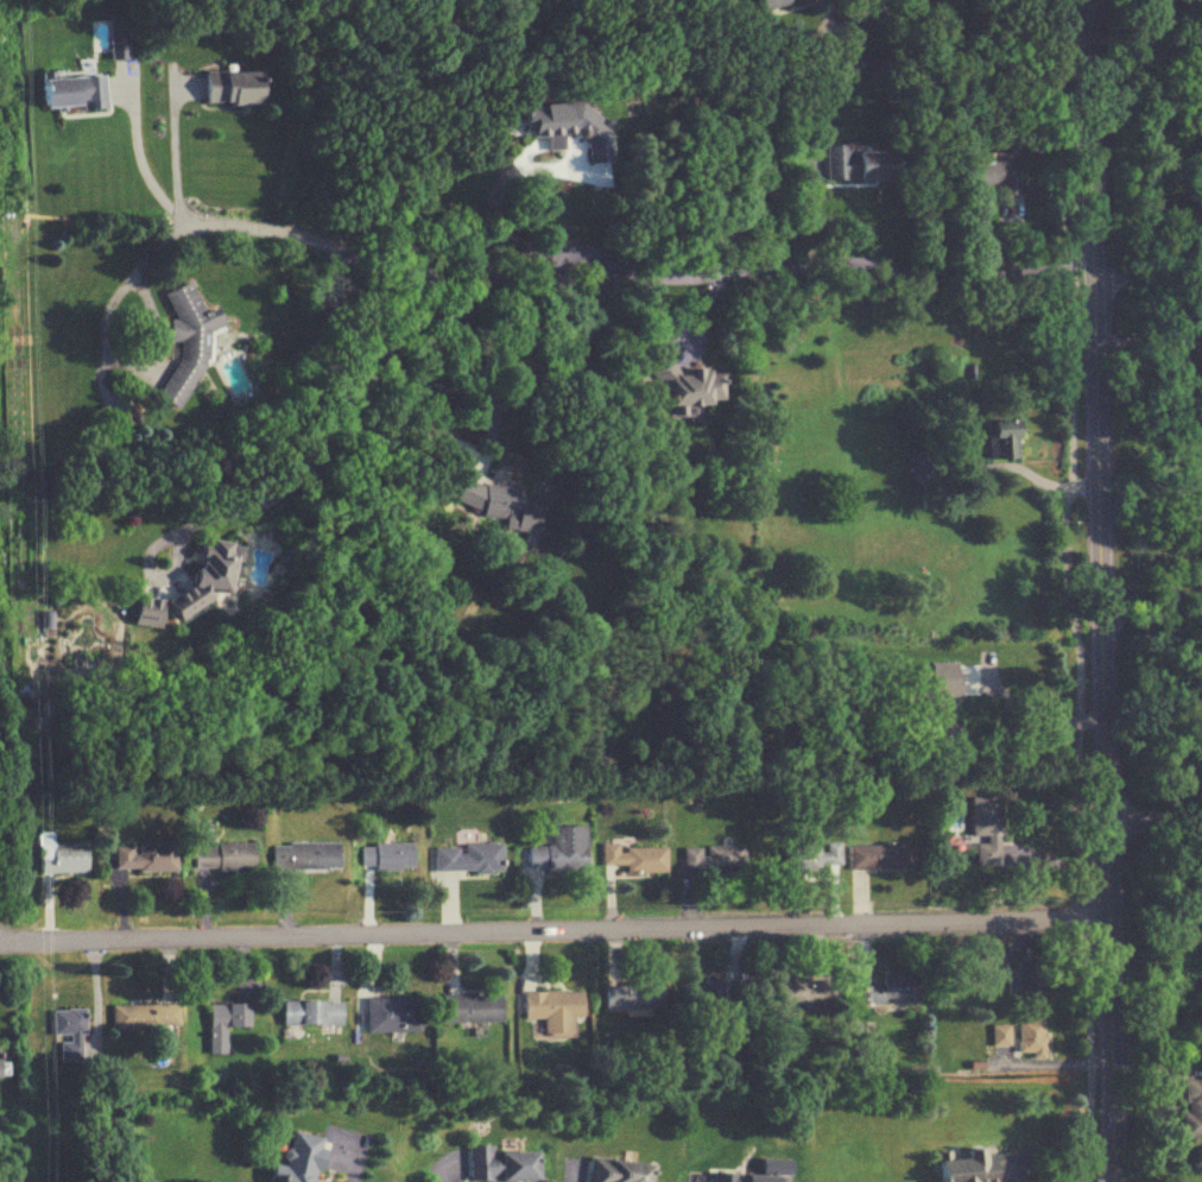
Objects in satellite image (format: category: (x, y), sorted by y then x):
building: (227, 88)
road: (758, 90)
building: (77, 91)
building: (1145, 103)
building: (565, 126)
road: (177, 154)
road: (144, 160)
building: (856, 164)
building: (987, 177)
road: (500, 226)
road: (1145, 253)
road: (634, 270)
building: (184, 340)
building: (1196, 354)
road: (548, 361)
road: (150, 378)
building: (684, 383)
road: (348, 416)
building: (999, 437)
building: (495, 502)
building: (203, 575)
road: (1063, 590)
road: (1096, 590)
road: (1147, 609)
building: (145, 611)
park: (15, 630)
park: (15, 630)
building: (937, 697)
road: (1033, 702)
road: (1152, 821)
building: (985, 832)
building: (558, 849)
building: (59, 855)
building: (302, 855)
building: (385, 855)
building: (141, 857)
building: (221, 857)
building: (811, 857)
building: (877, 857)
building: (466, 858)
building: (633, 858)
building: (710, 859)
road: (551, 928)
building: (1196, 929)
building: (980, 963)
building: (1030, 976)
building: (891, 988)
building: (792, 991)
building: (631, 994)
building: (702, 998)
building: (468, 1007)
building: (550, 1009)
building: (310, 1012)
building: (391, 1013)
building: (141, 1016)
building: (222, 1023)
building: (67, 1032)
building: (1017, 1035)
road: (1156, 1057)
building: (1191, 1108)
building: (302, 1157)
building: (498, 1164)
road: (354, 1165)
building: (963, 1167)
building: (613, 1170)
building: (745, 1178)

